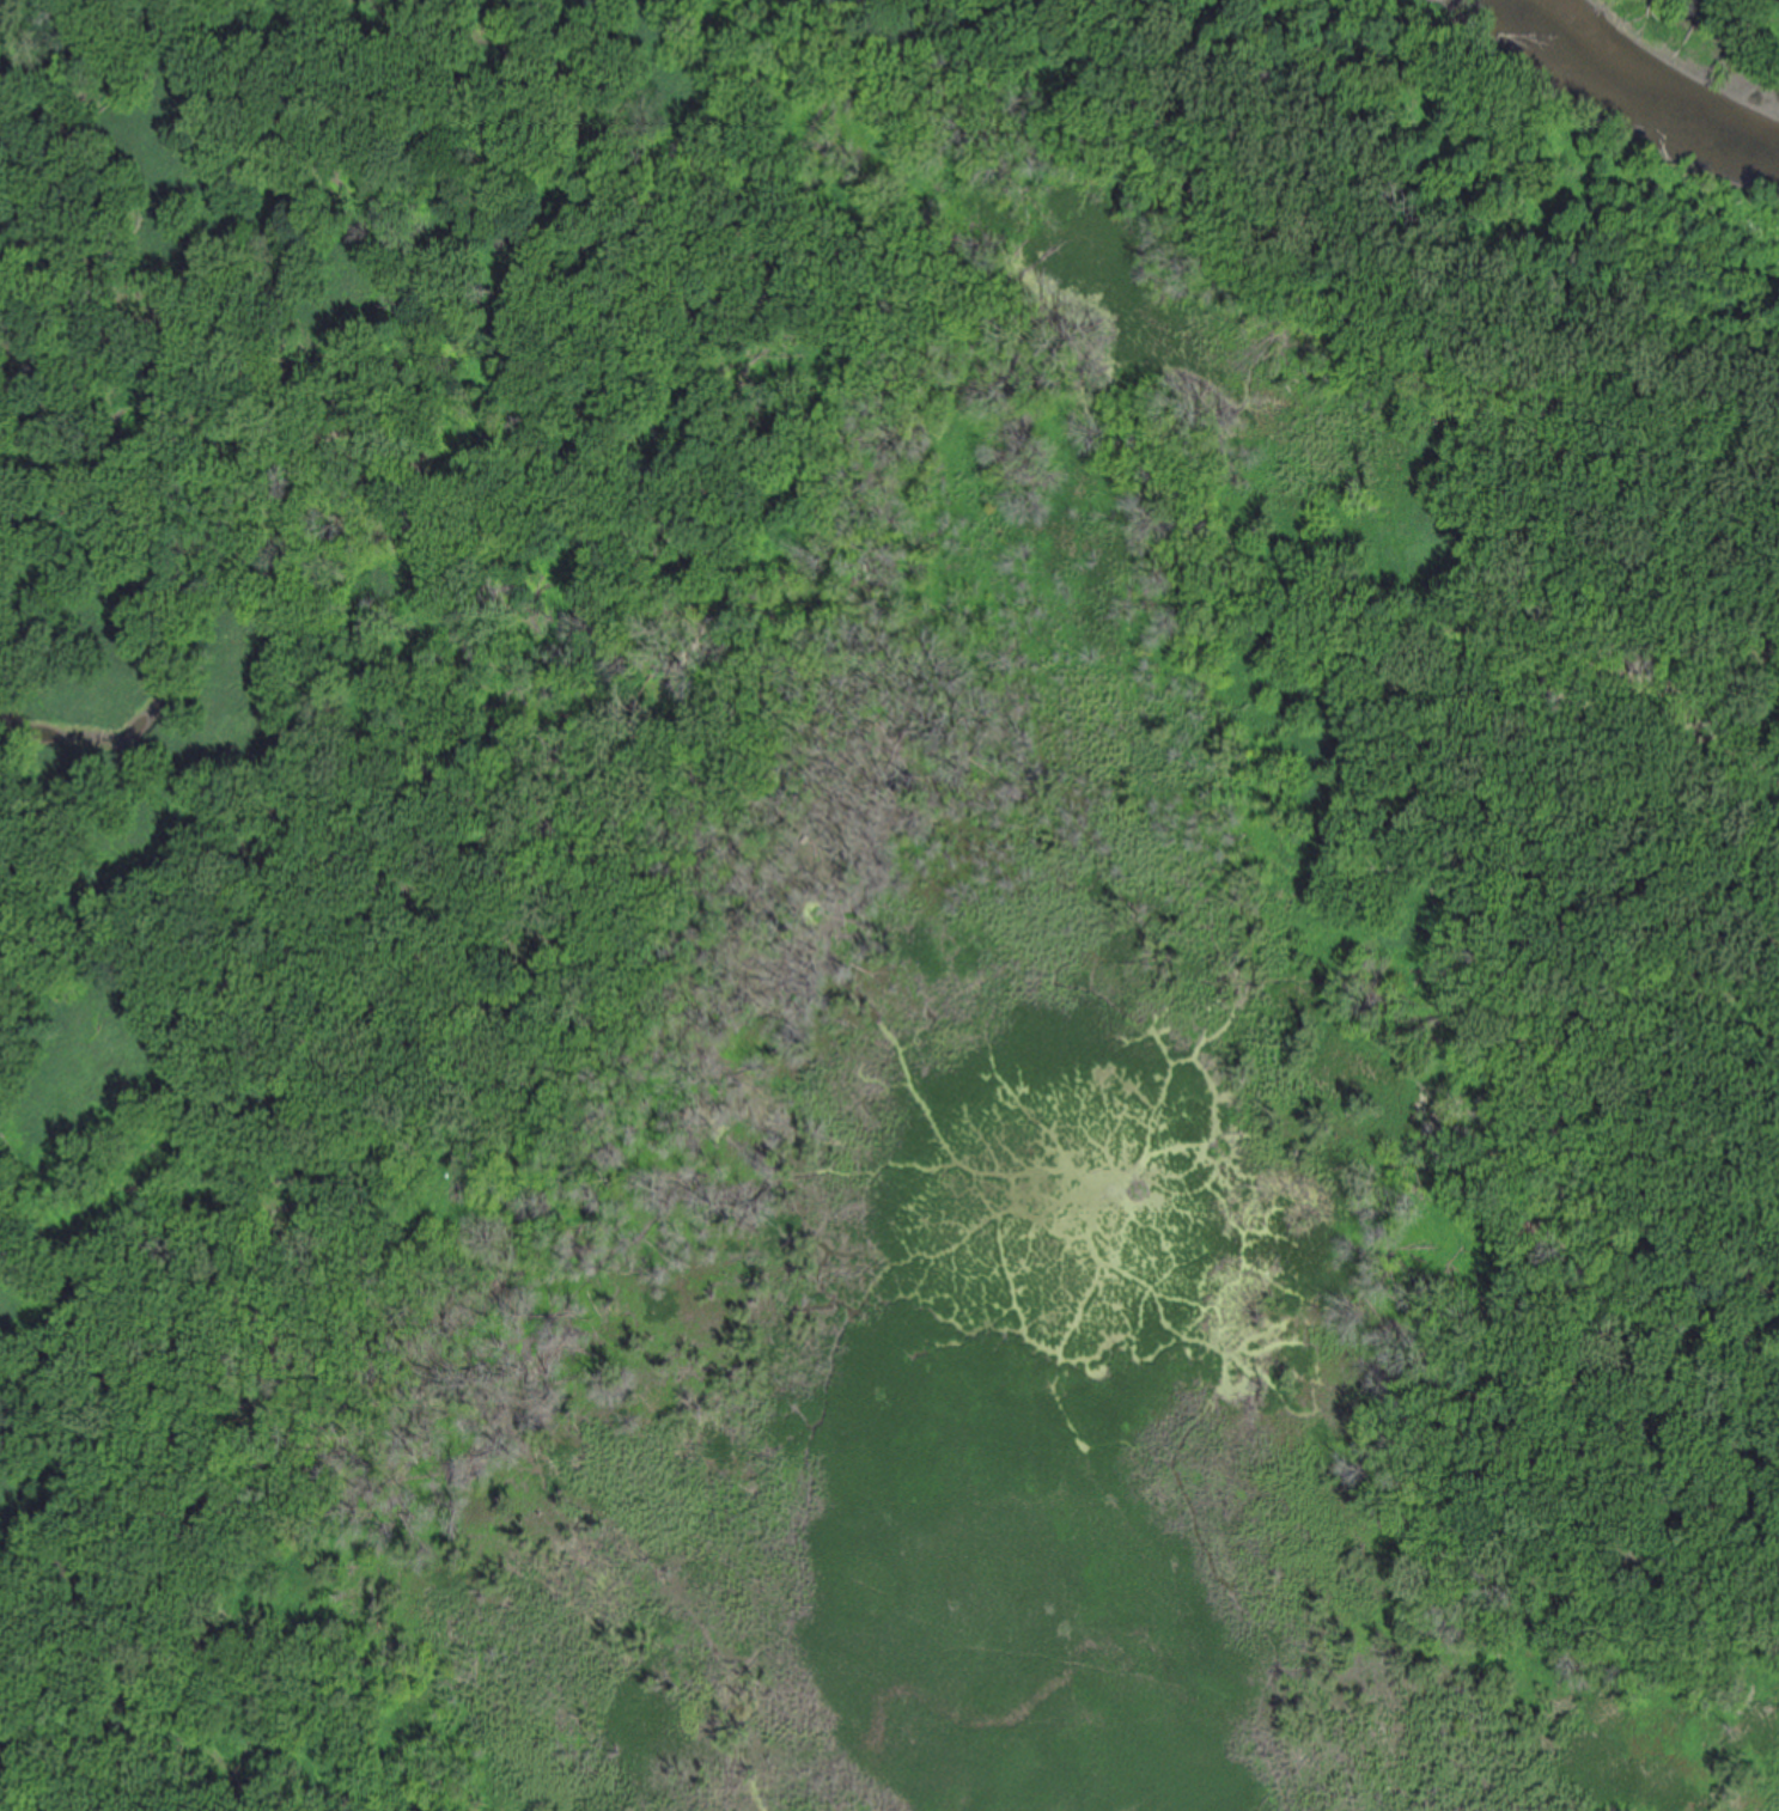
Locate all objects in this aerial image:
river: (1628, 86)

